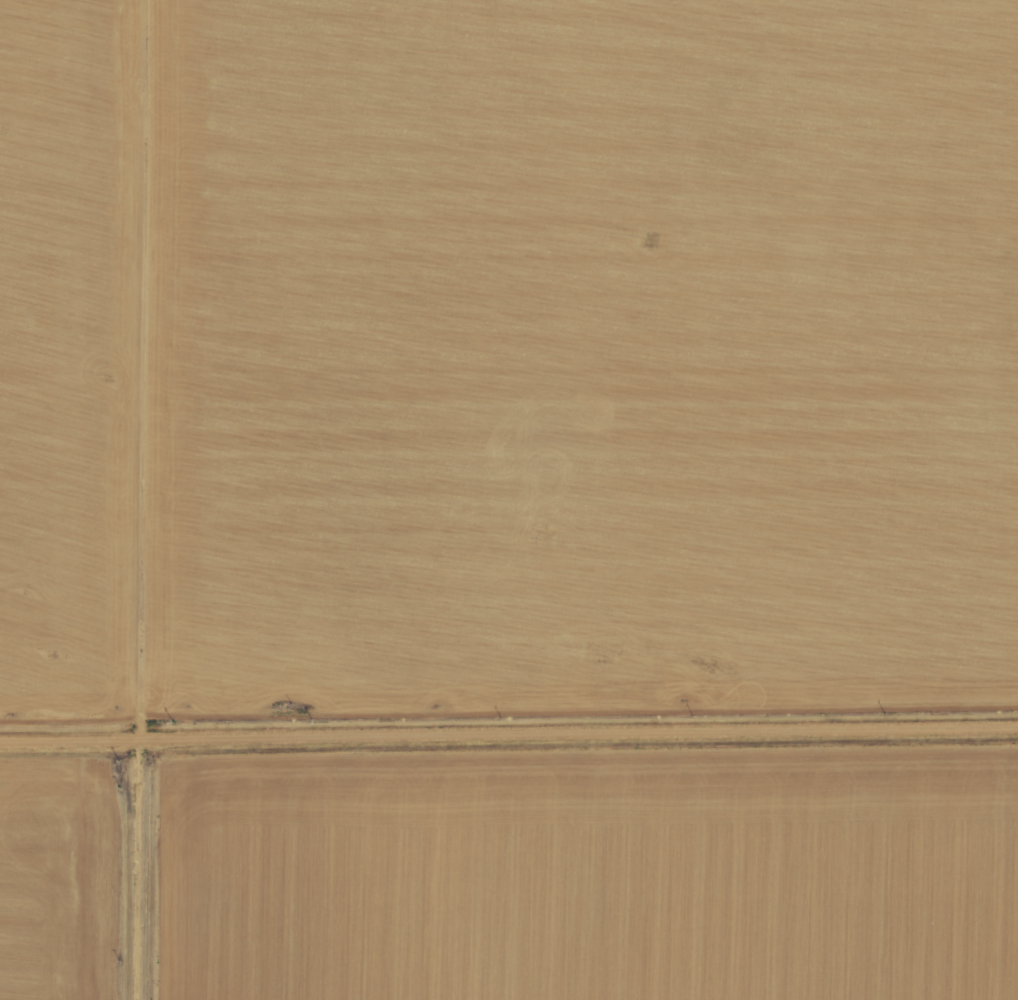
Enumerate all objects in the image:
road: (509, 736)

